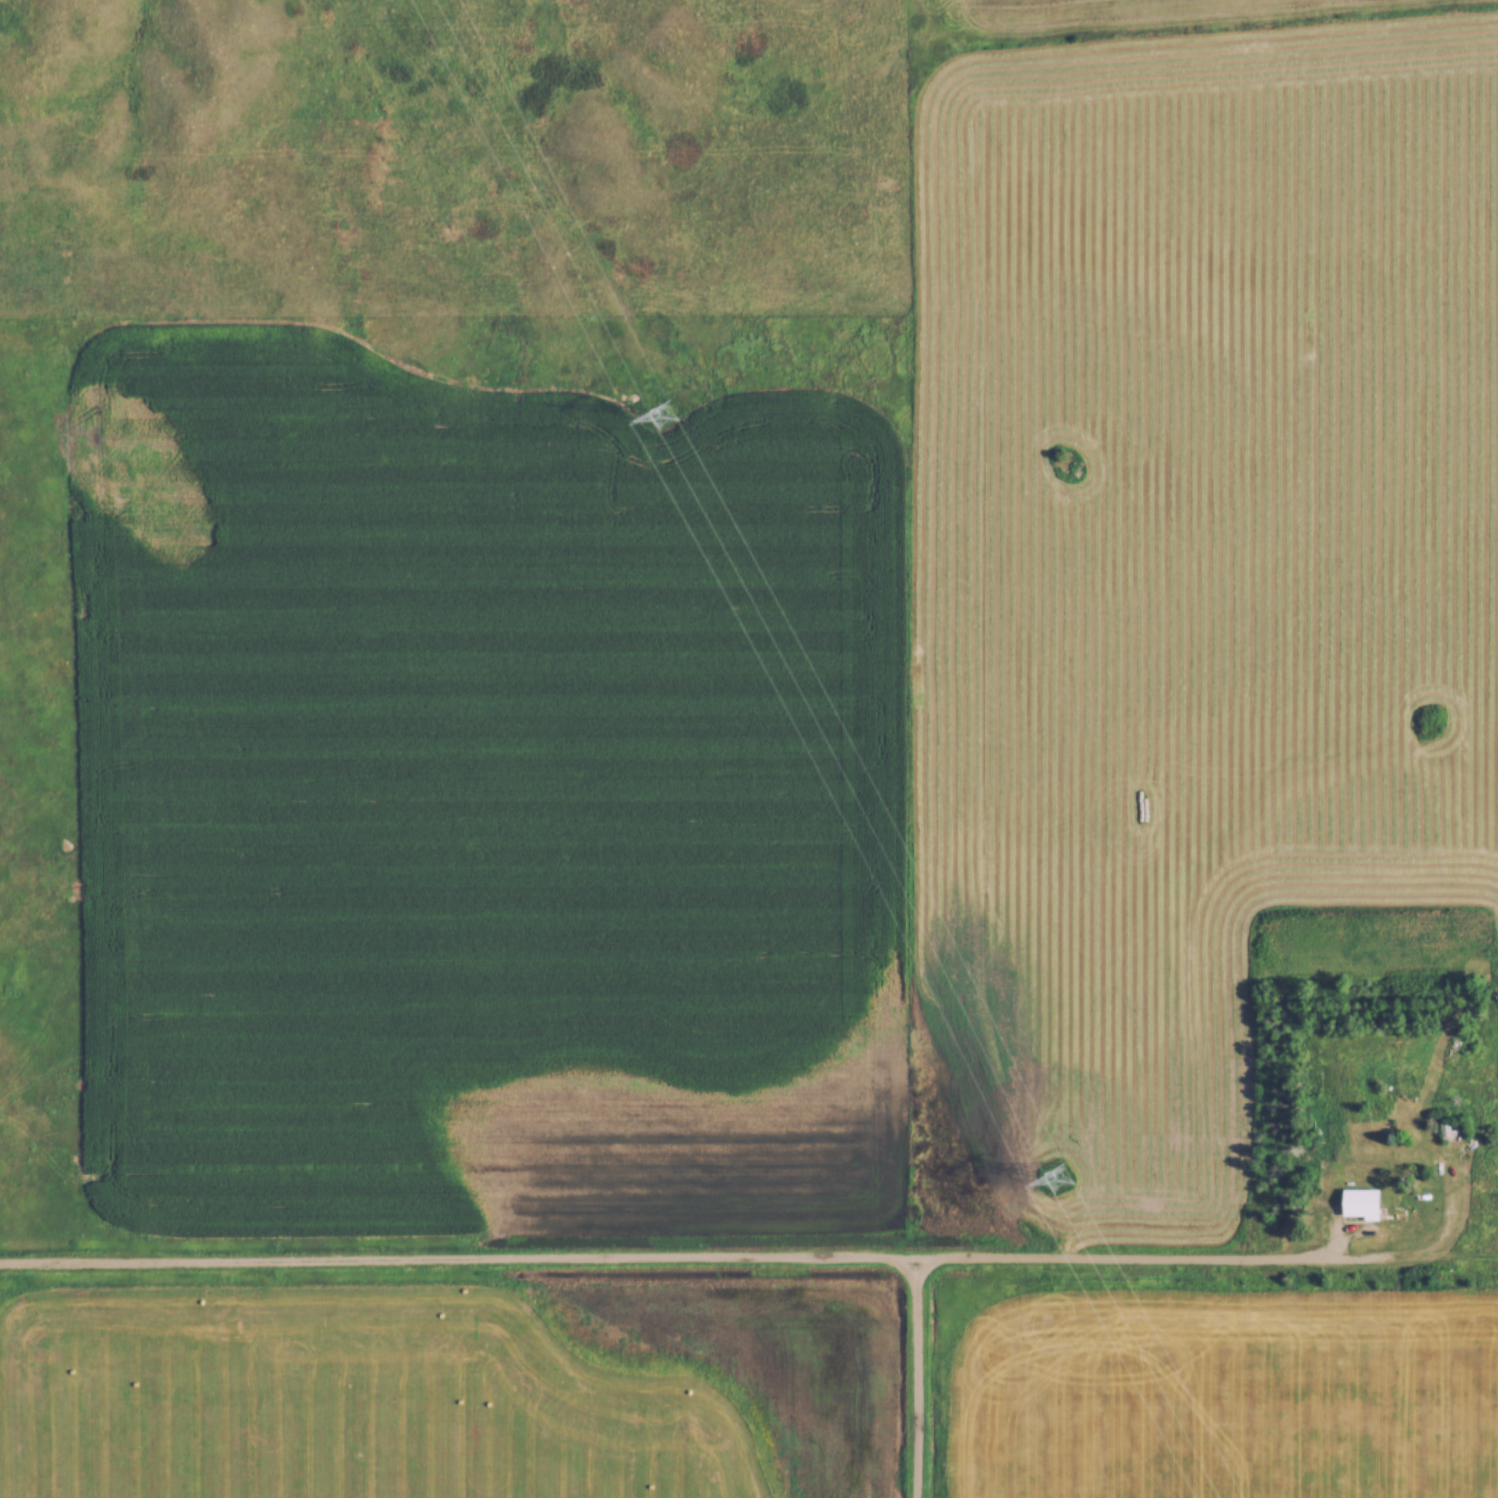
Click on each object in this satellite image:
power tower: (660, 414)
building: (1453, 1131)
power tower: (1055, 1178)
building: (1359, 1207)
road: (673, 1259)
road: (913, 1378)

